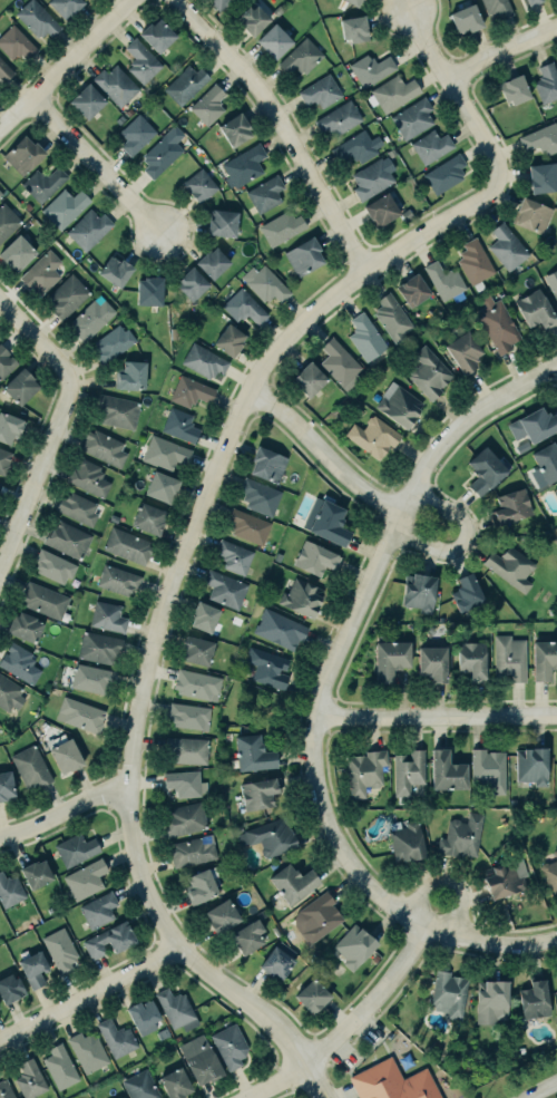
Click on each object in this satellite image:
building: (353, 2)
building: (534, 2)
building: (218, 4)
building: (66, 7)
building: (497, 7)
building: (277, 10)
building: (37, 18)
building: (467, 18)
building: (253, 19)
building: (354, 28)
building: (158, 35)
building: (274, 40)
building: (16, 43)
road: (500, 52)
building: (301, 57)
building: (140, 60)
road: (68, 67)
building: (370, 69)
building: (4, 71)
building: (547, 81)
building: (185, 84)
building: (115, 85)
building: (515, 89)
building: (319, 91)
building: (393, 93)
building: (87, 101)
building: (207, 104)
building: (128, 111)
building: (338, 118)
building: (412, 118)
building: (119, 119)
building: (235, 128)
road: (277, 129)
building: (135, 135)
building: (540, 138)
building: (356, 146)
building: (431, 146)
building: (162, 152)
building: (390, 153)
building: (23, 155)
building: (243, 166)
road: (97, 169)
building: (444, 174)
building: (544, 176)
building: (371, 178)
building: (42, 183)
building: (199, 185)
building: (0, 194)
building: (265, 194)
building: (0, 196)
building: (63, 207)
building: (381, 210)
building: (405, 214)
building: (532, 215)
building: (7, 220)
building: (223, 222)
building: (281, 227)
building: (88, 229)
building: (506, 246)
building: (17, 252)
building: (304, 255)
building: (473, 261)
building: (213, 262)
building: (556, 269)
building: (115, 270)
building: (41, 272)
building: (443, 281)
building: (192, 283)
building: (264, 283)
building: (412, 290)
building: (554, 290)
building: (149, 291)
building: (67, 297)
building: (244, 307)
building: (535, 310)
building: (90, 318)
building: (391, 318)
building: (497, 324)
building: (364, 337)
building: (229, 340)
building: (111, 343)
building: (465, 351)
building: (204, 360)
building: (6, 362)
building: (339, 363)
building: (429, 373)
building: (130, 375)
building: (309, 379)
building: (21, 386)
building: (189, 390)
building: (399, 405)
building: (115, 410)
building: (534, 425)
road: (57, 426)
building: (179, 426)
building: (10, 428)
building: (373, 436)
building: (104, 447)
building: (521, 447)
building: (165, 453)
building: (3, 460)
building: (267, 464)
building: (545, 465)
building: (486, 472)
building: (88, 477)
building: (0, 483)
building: (162, 487)
building: (556, 492)
building: (258, 496)
building: (537, 496)
road: (392, 506)
building: (510, 507)
building: (77, 508)
road: (196, 517)
building: (113, 518)
building: (148, 518)
building: (326, 522)
building: (247, 526)
building: (556, 528)
building: (67, 540)
building: (126, 545)
building: (234, 556)
building: (314, 557)
building: (52, 565)
building: (511, 566)
building: (117, 580)
building: (225, 589)
building: (419, 592)
building: (467, 593)
building: (301, 597)
building: (43, 599)
building: (107, 616)
building: (204, 616)
building: (25, 626)
building: (278, 629)
road: (348, 629)
building: (98, 648)
building: (197, 650)
building: (472, 658)
building: (509, 658)
building: (391, 659)
building: (544, 660)
building: (19, 663)
building: (433, 663)
building: (267, 668)
building: (91, 678)
building: (197, 684)
building: (9, 694)
park: (261, 708)
building: (80, 715)
building: (189, 715)
road: (436, 717)
building: (187, 750)
building: (253, 754)
building: (65, 755)
building: (532, 766)
building: (30, 767)
building: (489, 769)
building: (365, 771)
building: (408, 771)
building: (448, 771)
building: (184, 783)
building: (6, 785)
building: (258, 794)
road: (63, 813)
building: (185, 820)
building: (271, 836)
building: (461, 836)
building: (541, 838)
building: (408, 842)
building: (75, 848)
building: (192, 851)
building: (36, 874)
building: (550, 875)
building: (85, 880)
building: (502, 881)
building: (293, 883)
building: (199, 887)
building: (9, 891)
building: (98, 910)
building: (221, 916)
building: (316, 917)
building: (248, 936)
building: (109, 940)
road: (489, 942)
building: (354, 946)
building: (59, 950)
building: (276, 962)
building: (33, 969)
building: (556, 978)
building: (10, 989)
road: (88, 993)
building: (449, 993)
building: (313, 995)
building: (535, 999)
building: (491, 1001)
building: (175, 1009)
building: (143, 1016)
road: (349, 1027)
building: (162, 1033)
building: (116, 1038)
building: (229, 1046)
building: (87, 1051)
building: (199, 1059)
building: (59, 1066)
building: (29, 1079)
building: (392, 1081)
building: (175, 1082)
building: (139, 1085)
road: (292, 1087)
building: (4, 1089)
road: (541, 1090)
park: (289, 1092)
road: (282, 1094)
building: (123, 1097)

